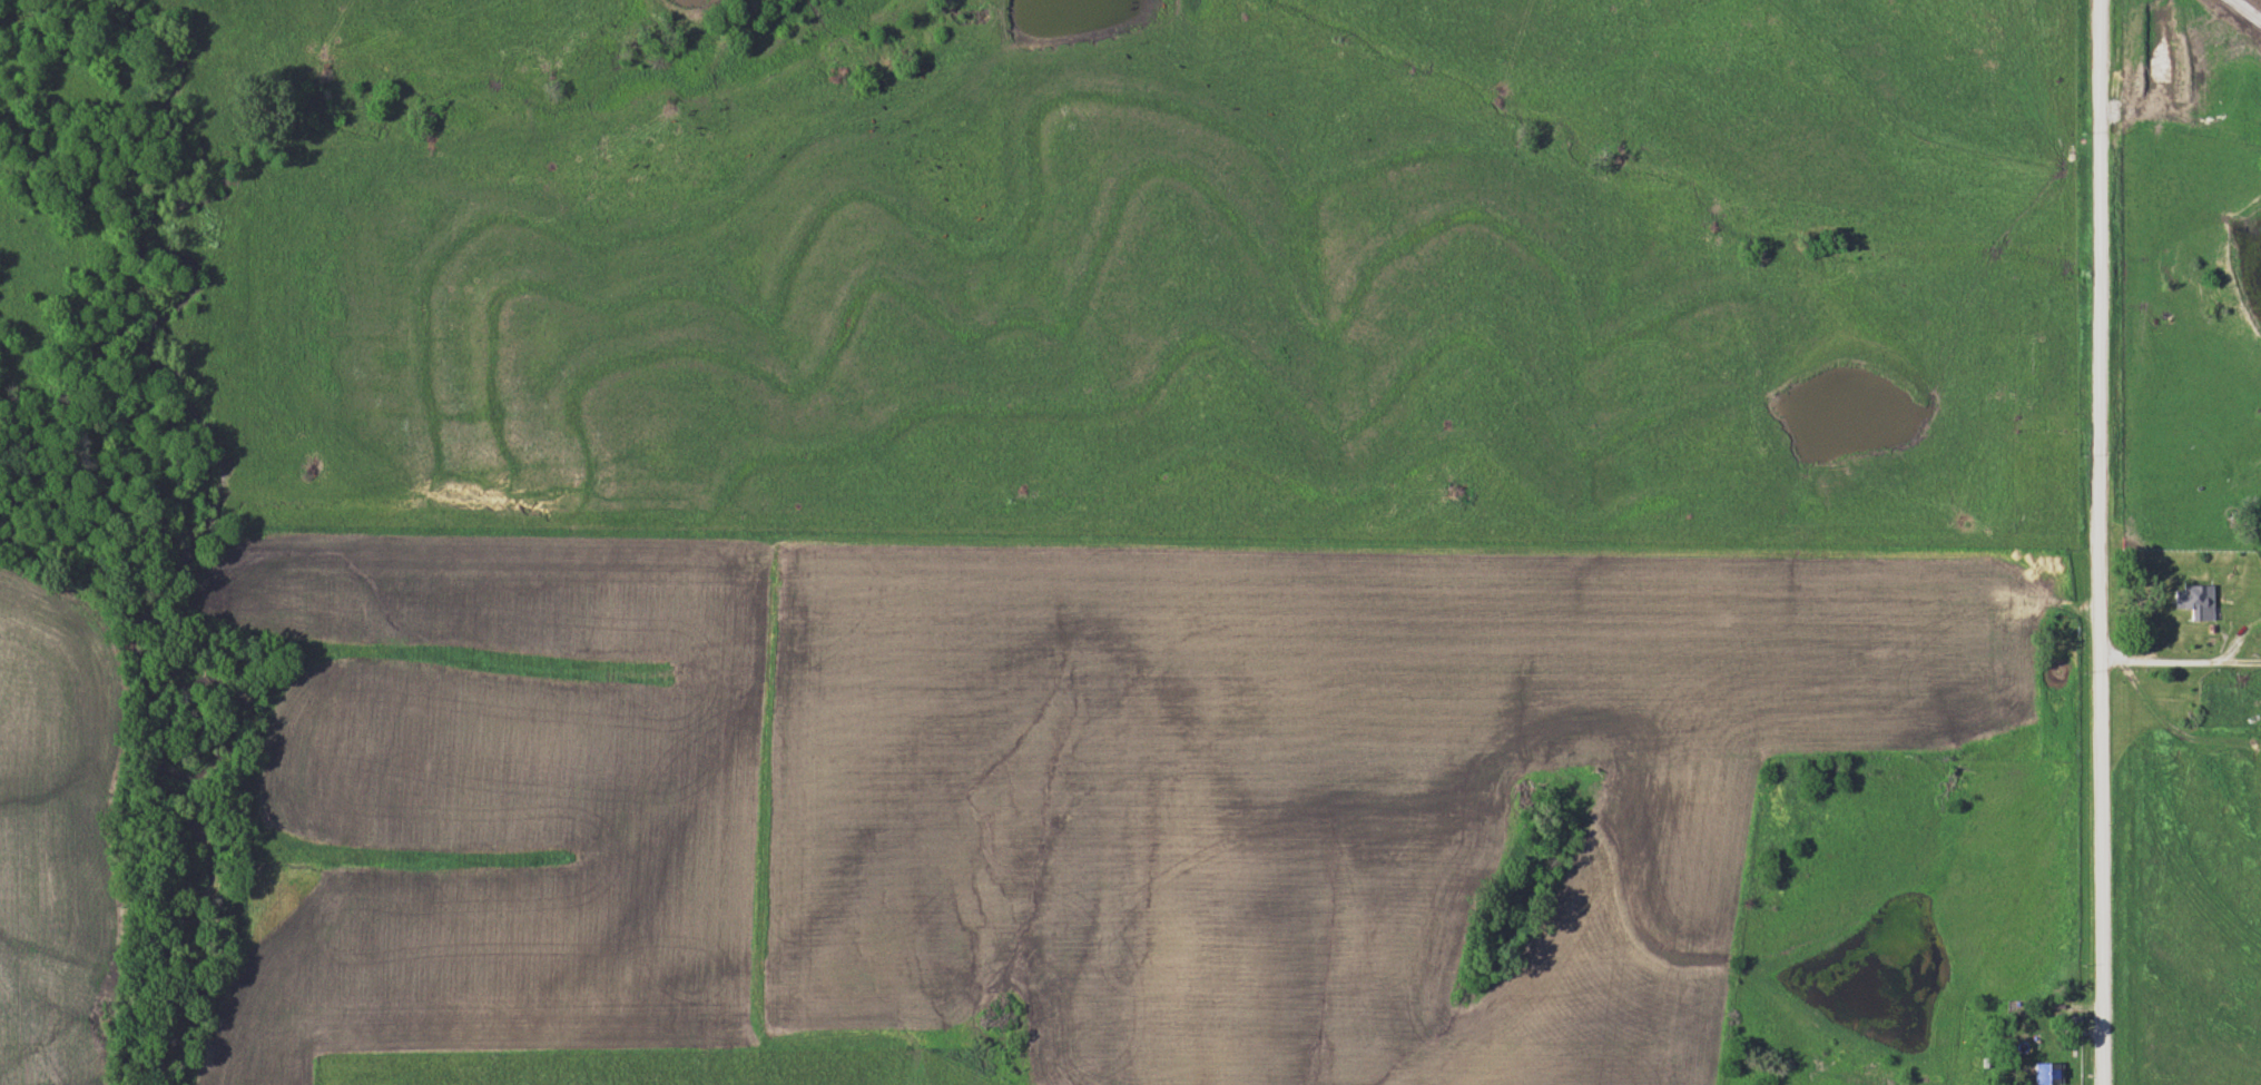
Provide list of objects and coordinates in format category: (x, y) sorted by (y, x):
road: (2098, 542)
building: (2190, 602)
building: (2022, 612)
building: (2042, 1073)

